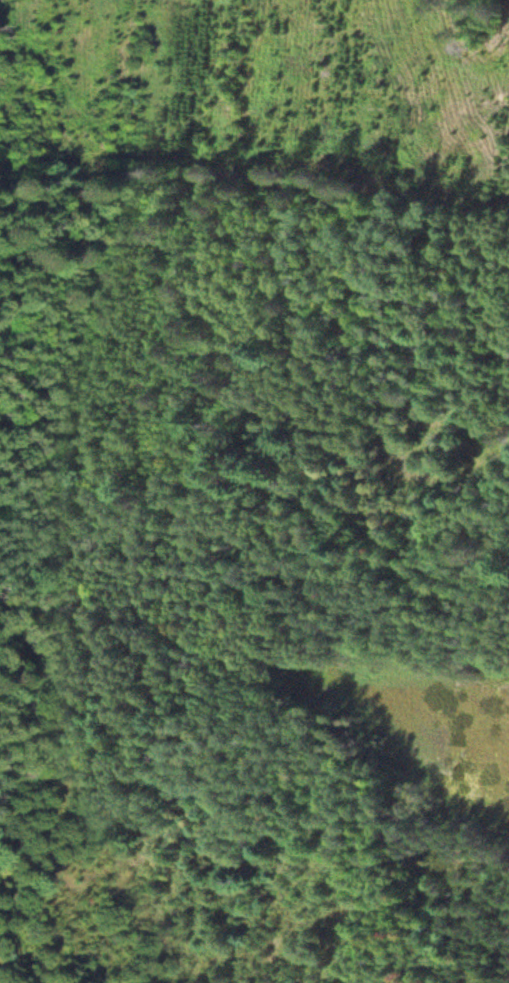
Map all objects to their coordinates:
road: (249, 500)

